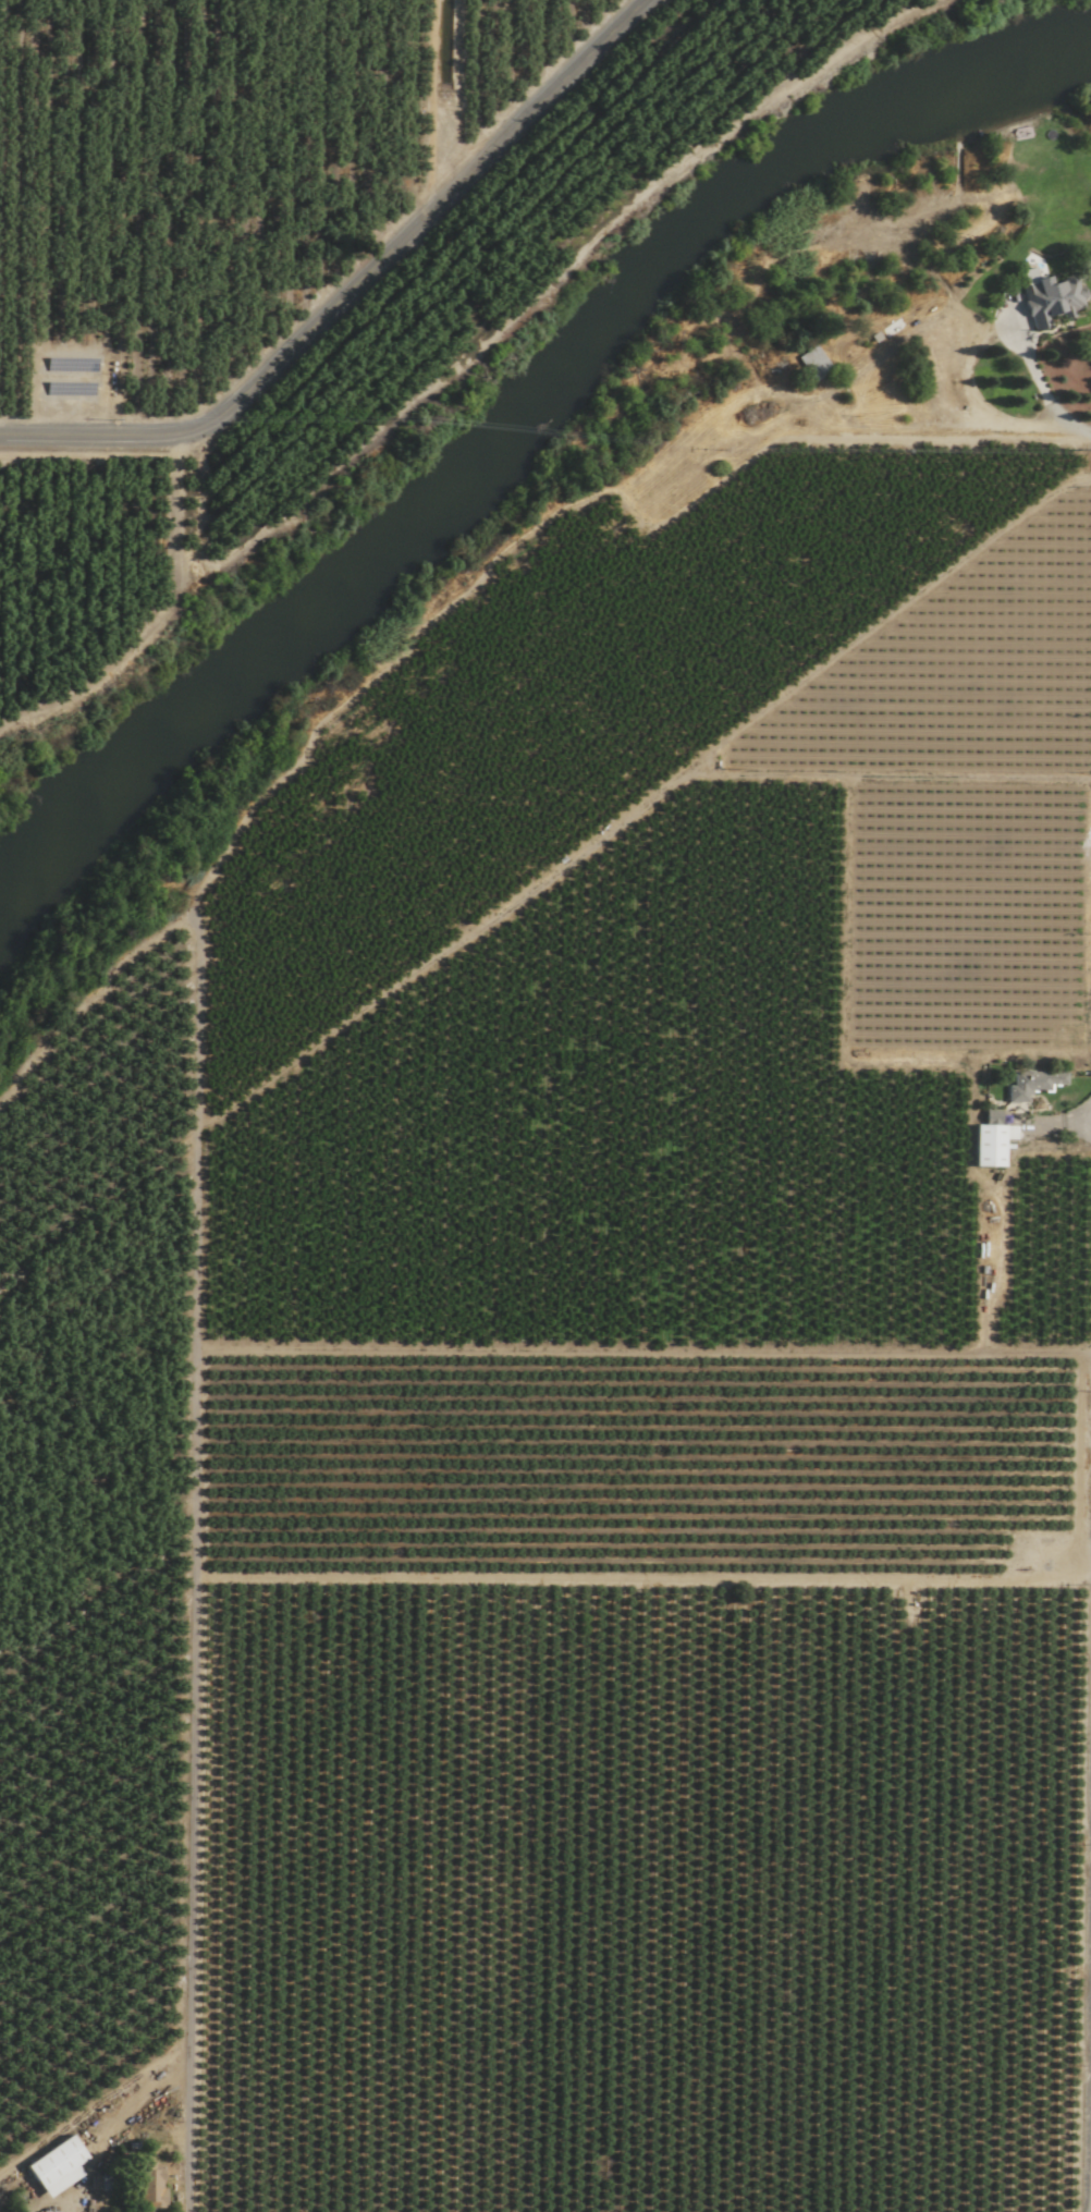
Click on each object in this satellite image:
crop: (294, 244)
road: (351, 285)
building: (1051, 296)
building: (813, 362)
road: (1035, 378)
road: (887, 432)
building: (1033, 1083)
building: (992, 1145)
crop: (577, 1401)
building: (56, 2165)
building: (151, 2186)
building: (48, 2211)

